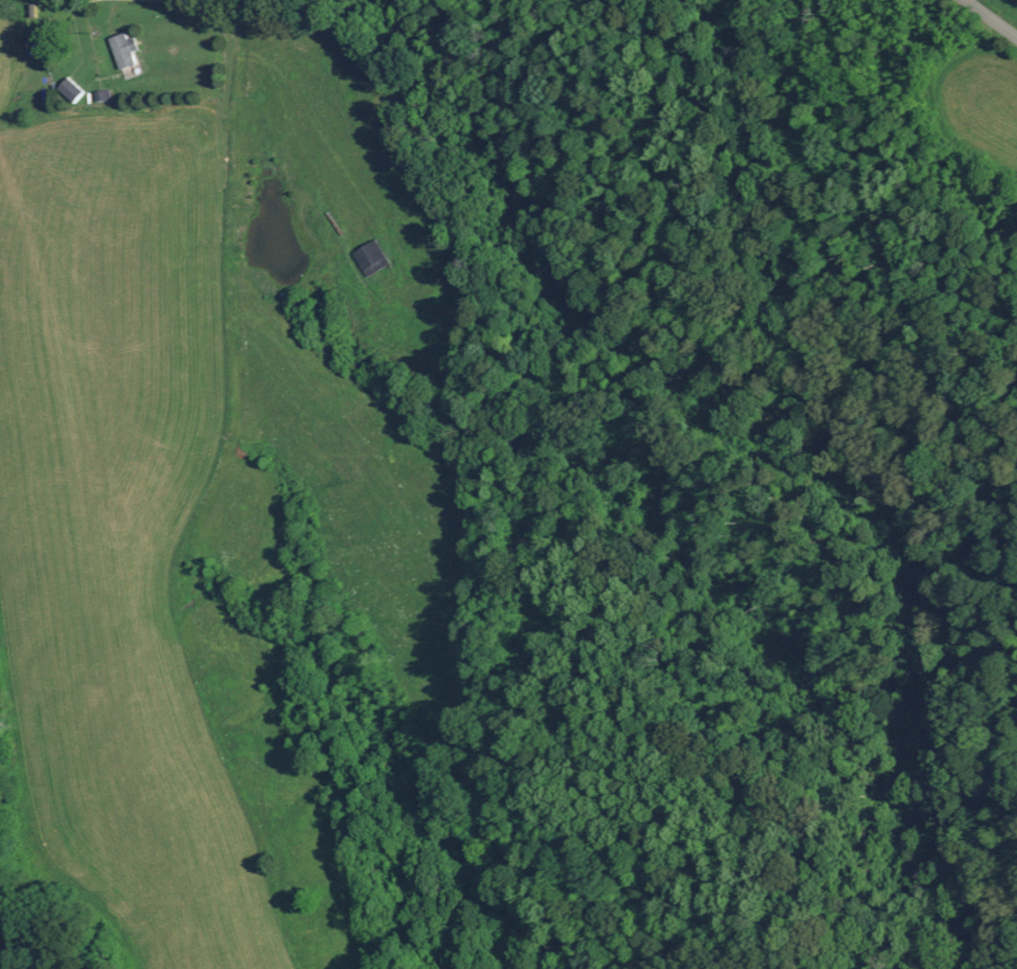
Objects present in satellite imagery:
road: (990, 19)
building: (123, 49)
building: (69, 89)
building: (102, 95)
road: (137, 99)
road: (262, 142)

